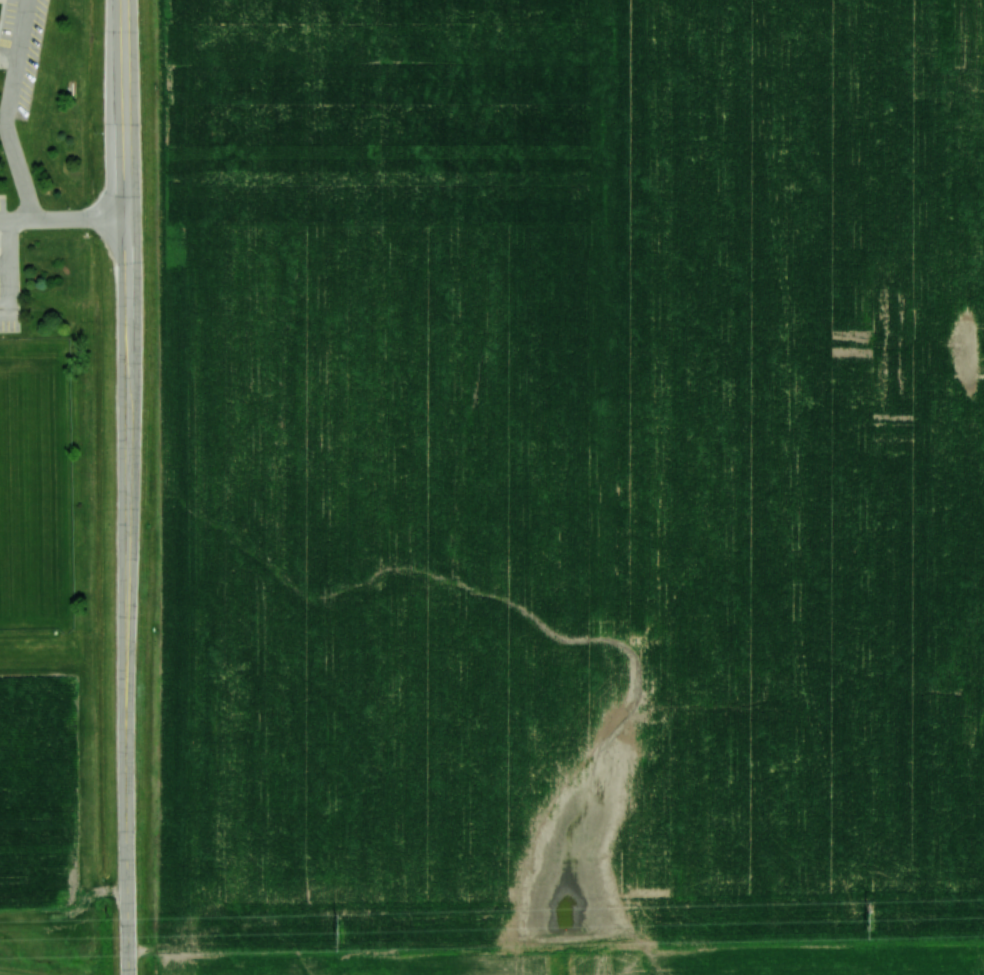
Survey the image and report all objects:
road: (1, 7)
road: (8, 109)
road: (81, 215)
road: (17, 216)
road: (4, 262)
road: (9, 267)
road: (127, 487)
park: (31, 493)
power tower: (873, 917)
power tower: (340, 929)

